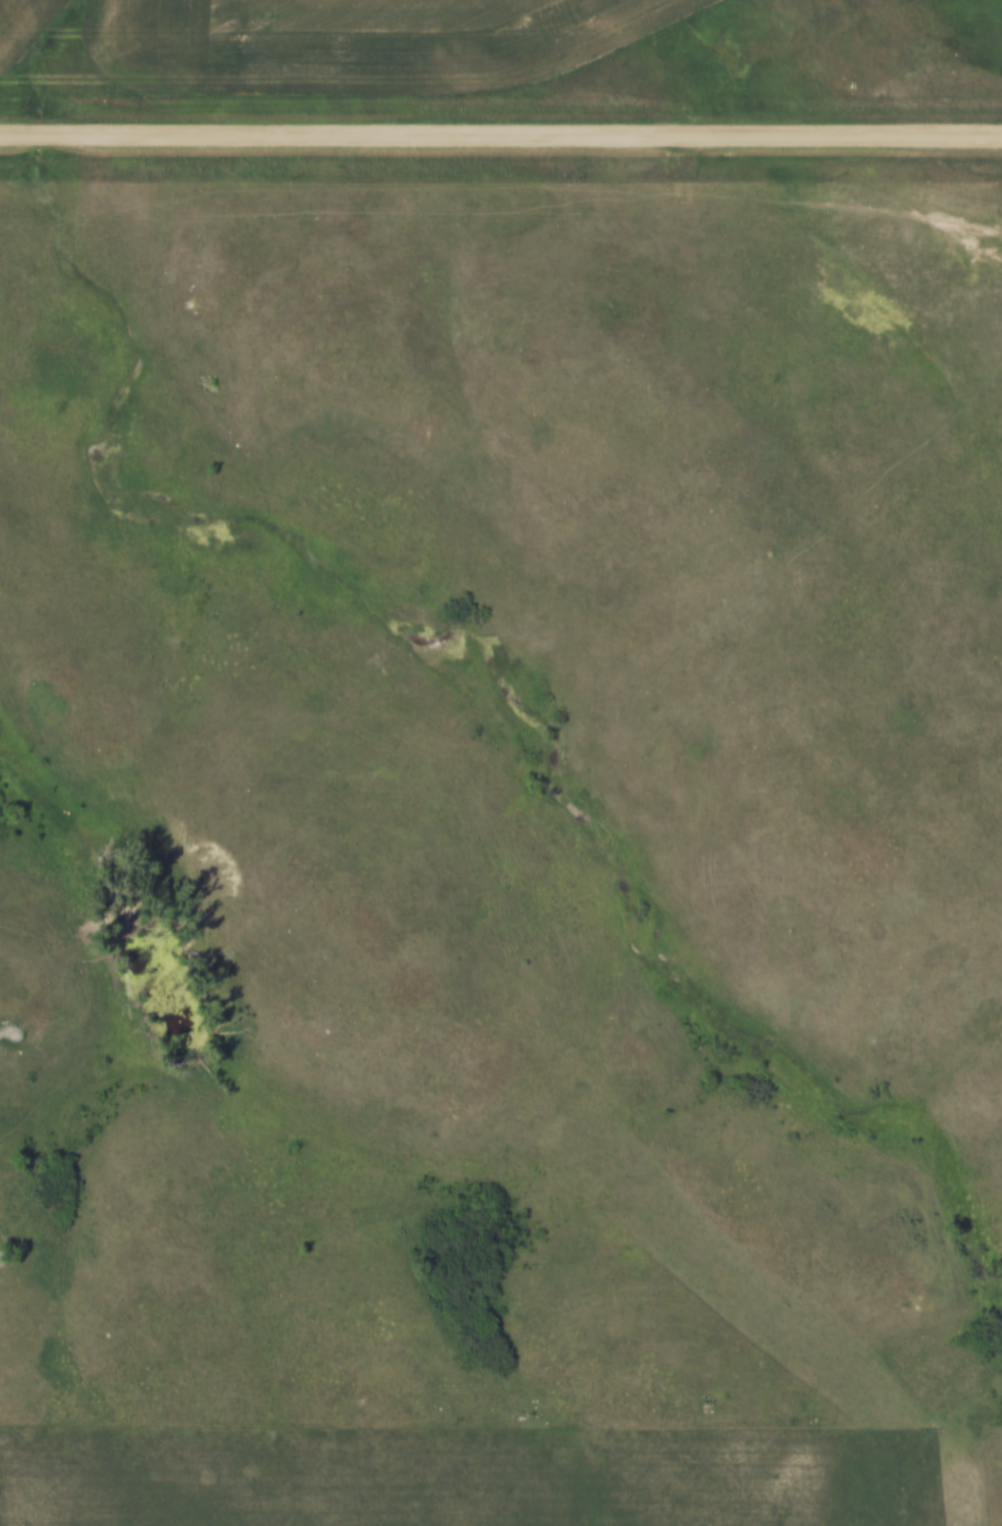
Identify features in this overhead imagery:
road: (501, 134)
building: (175, 1024)

